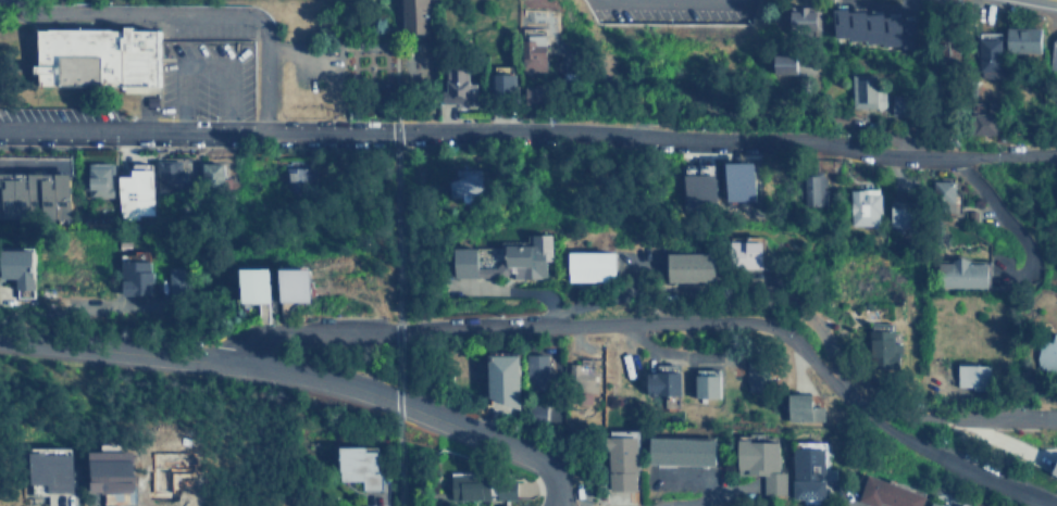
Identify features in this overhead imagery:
parking lot: (662, 12)
road: (186, 13)
building: (414, 15)
building: (804, 18)
road: (36, 25)
building: (874, 25)
building: (1022, 39)
building: (534, 52)
building: (988, 53)
building: (99, 56)
park: (368, 60)
road: (204, 62)
building: (789, 64)
parking lot: (313, 67)
road: (32, 73)
parking lot: (206, 78)
building: (507, 84)
building: (460, 88)
building: (865, 91)
building: (984, 123)
road: (528, 130)
building: (211, 174)
building: (171, 176)
building: (100, 179)
building: (298, 181)
building: (741, 181)
building: (464, 182)
building: (700, 187)
building: (137, 189)
building: (811, 190)
building: (36, 194)
building: (942, 195)
building: (865, 206)
building: (903, 214)
building: (751, 252)
building: (595, 265)
building: (693, 266)
building: (22, 269)
building: (136, 273)
building: (962, 274)
building: (177, 283)
building: (258, 283)
building: (299, 283)
road: (568, 325)
building: (883, 347)
building: (1046, 352)
building: (540, 370)
road: (302, 374)
building: (973, 375)
building: (506, 378)
building: (756, 378)
building: (664, 381)
building: (708, 384)
building: (807, 406)
road: (973, 414)
building: (684, 443)
building: (624, 461)
building: (763, 463)
building: (363, 465)
building: (55, 469)
building: (114, 470)
road: (967, 470)
building: (1056, 470)
building: (809, 472)
building: (484, 485)
building: (890, 493)
road: (1031, 501)
building: (937, 504)

